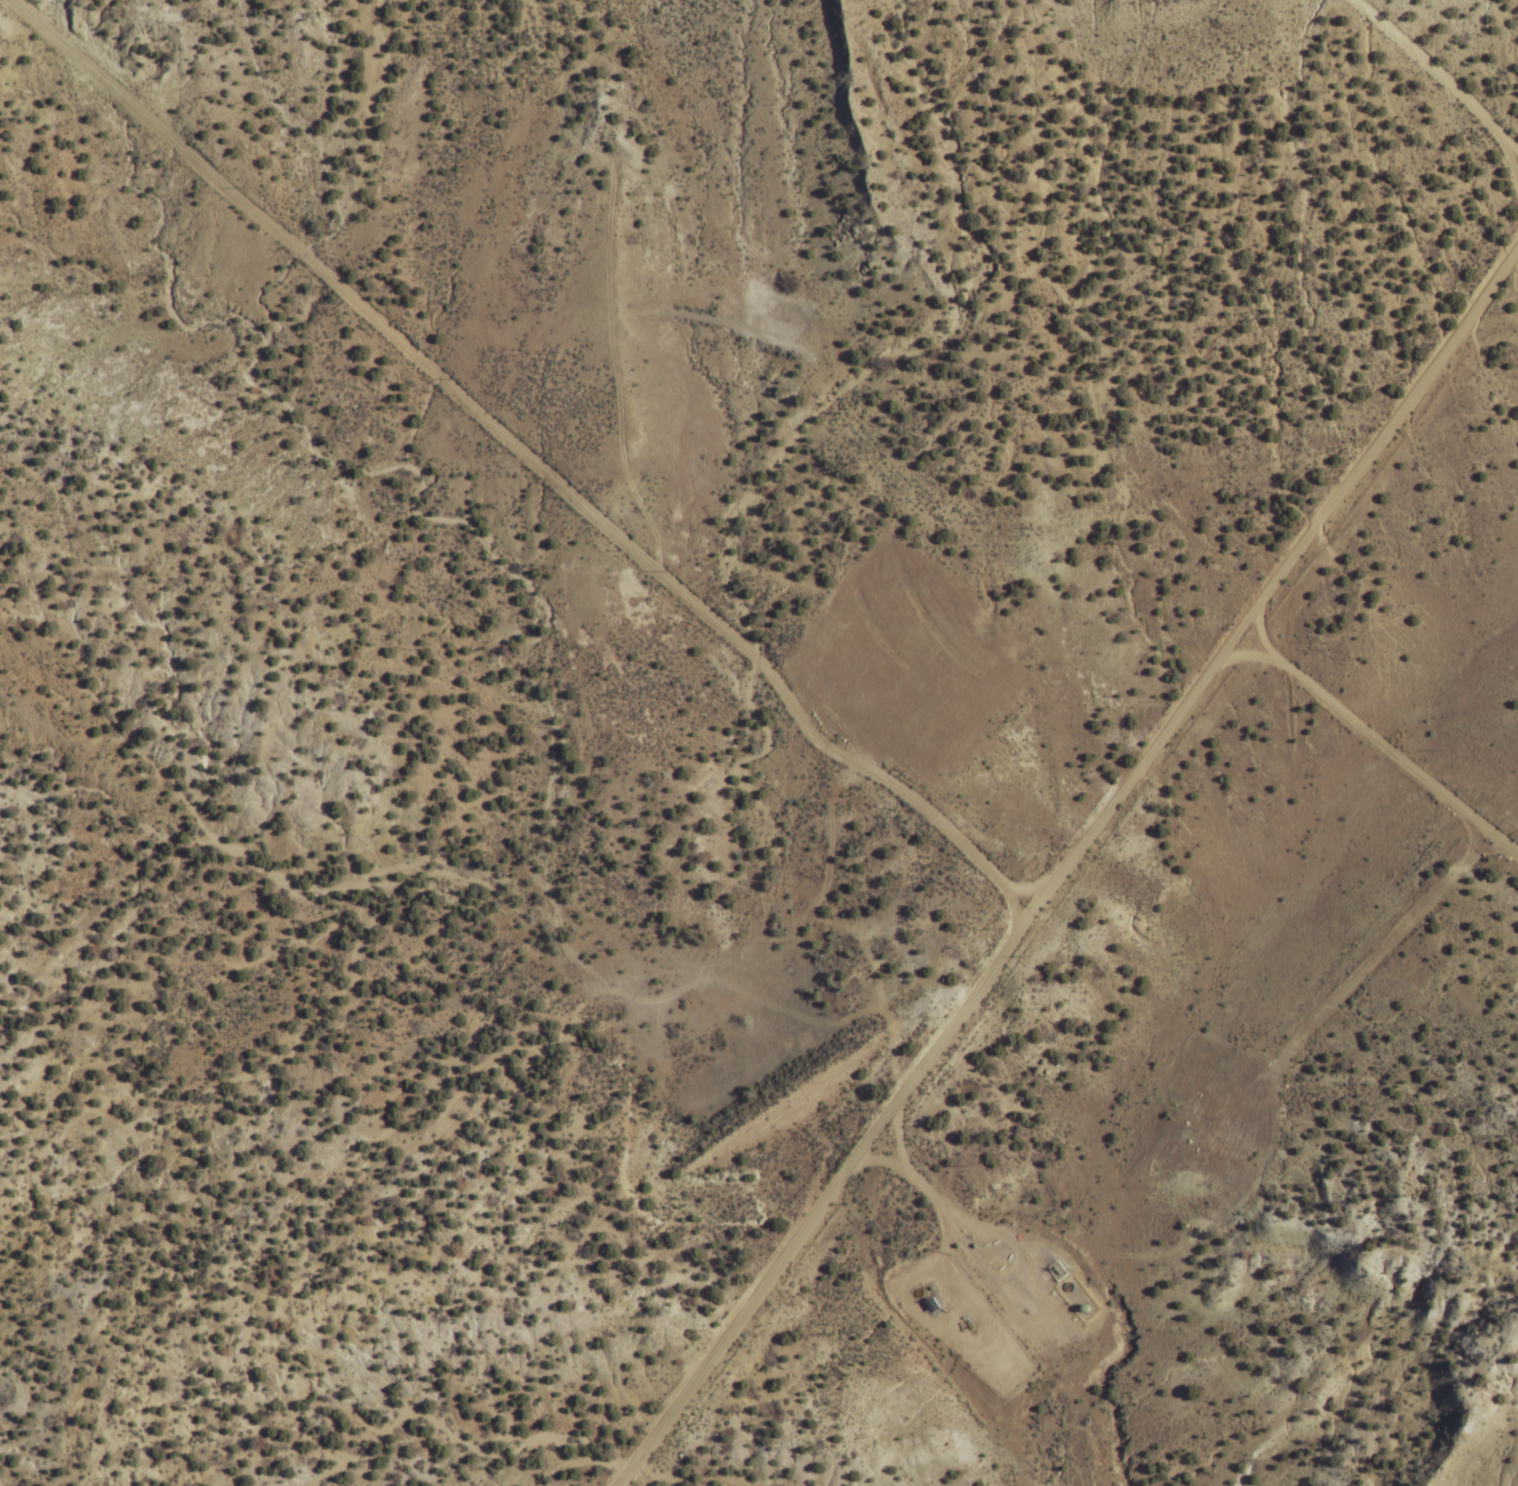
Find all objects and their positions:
road: (530, 445)
road: (1248, 631)
road: (1366, 742)
road: (1061, 859)
road: (887, 1131)
road: (960, 1355)

